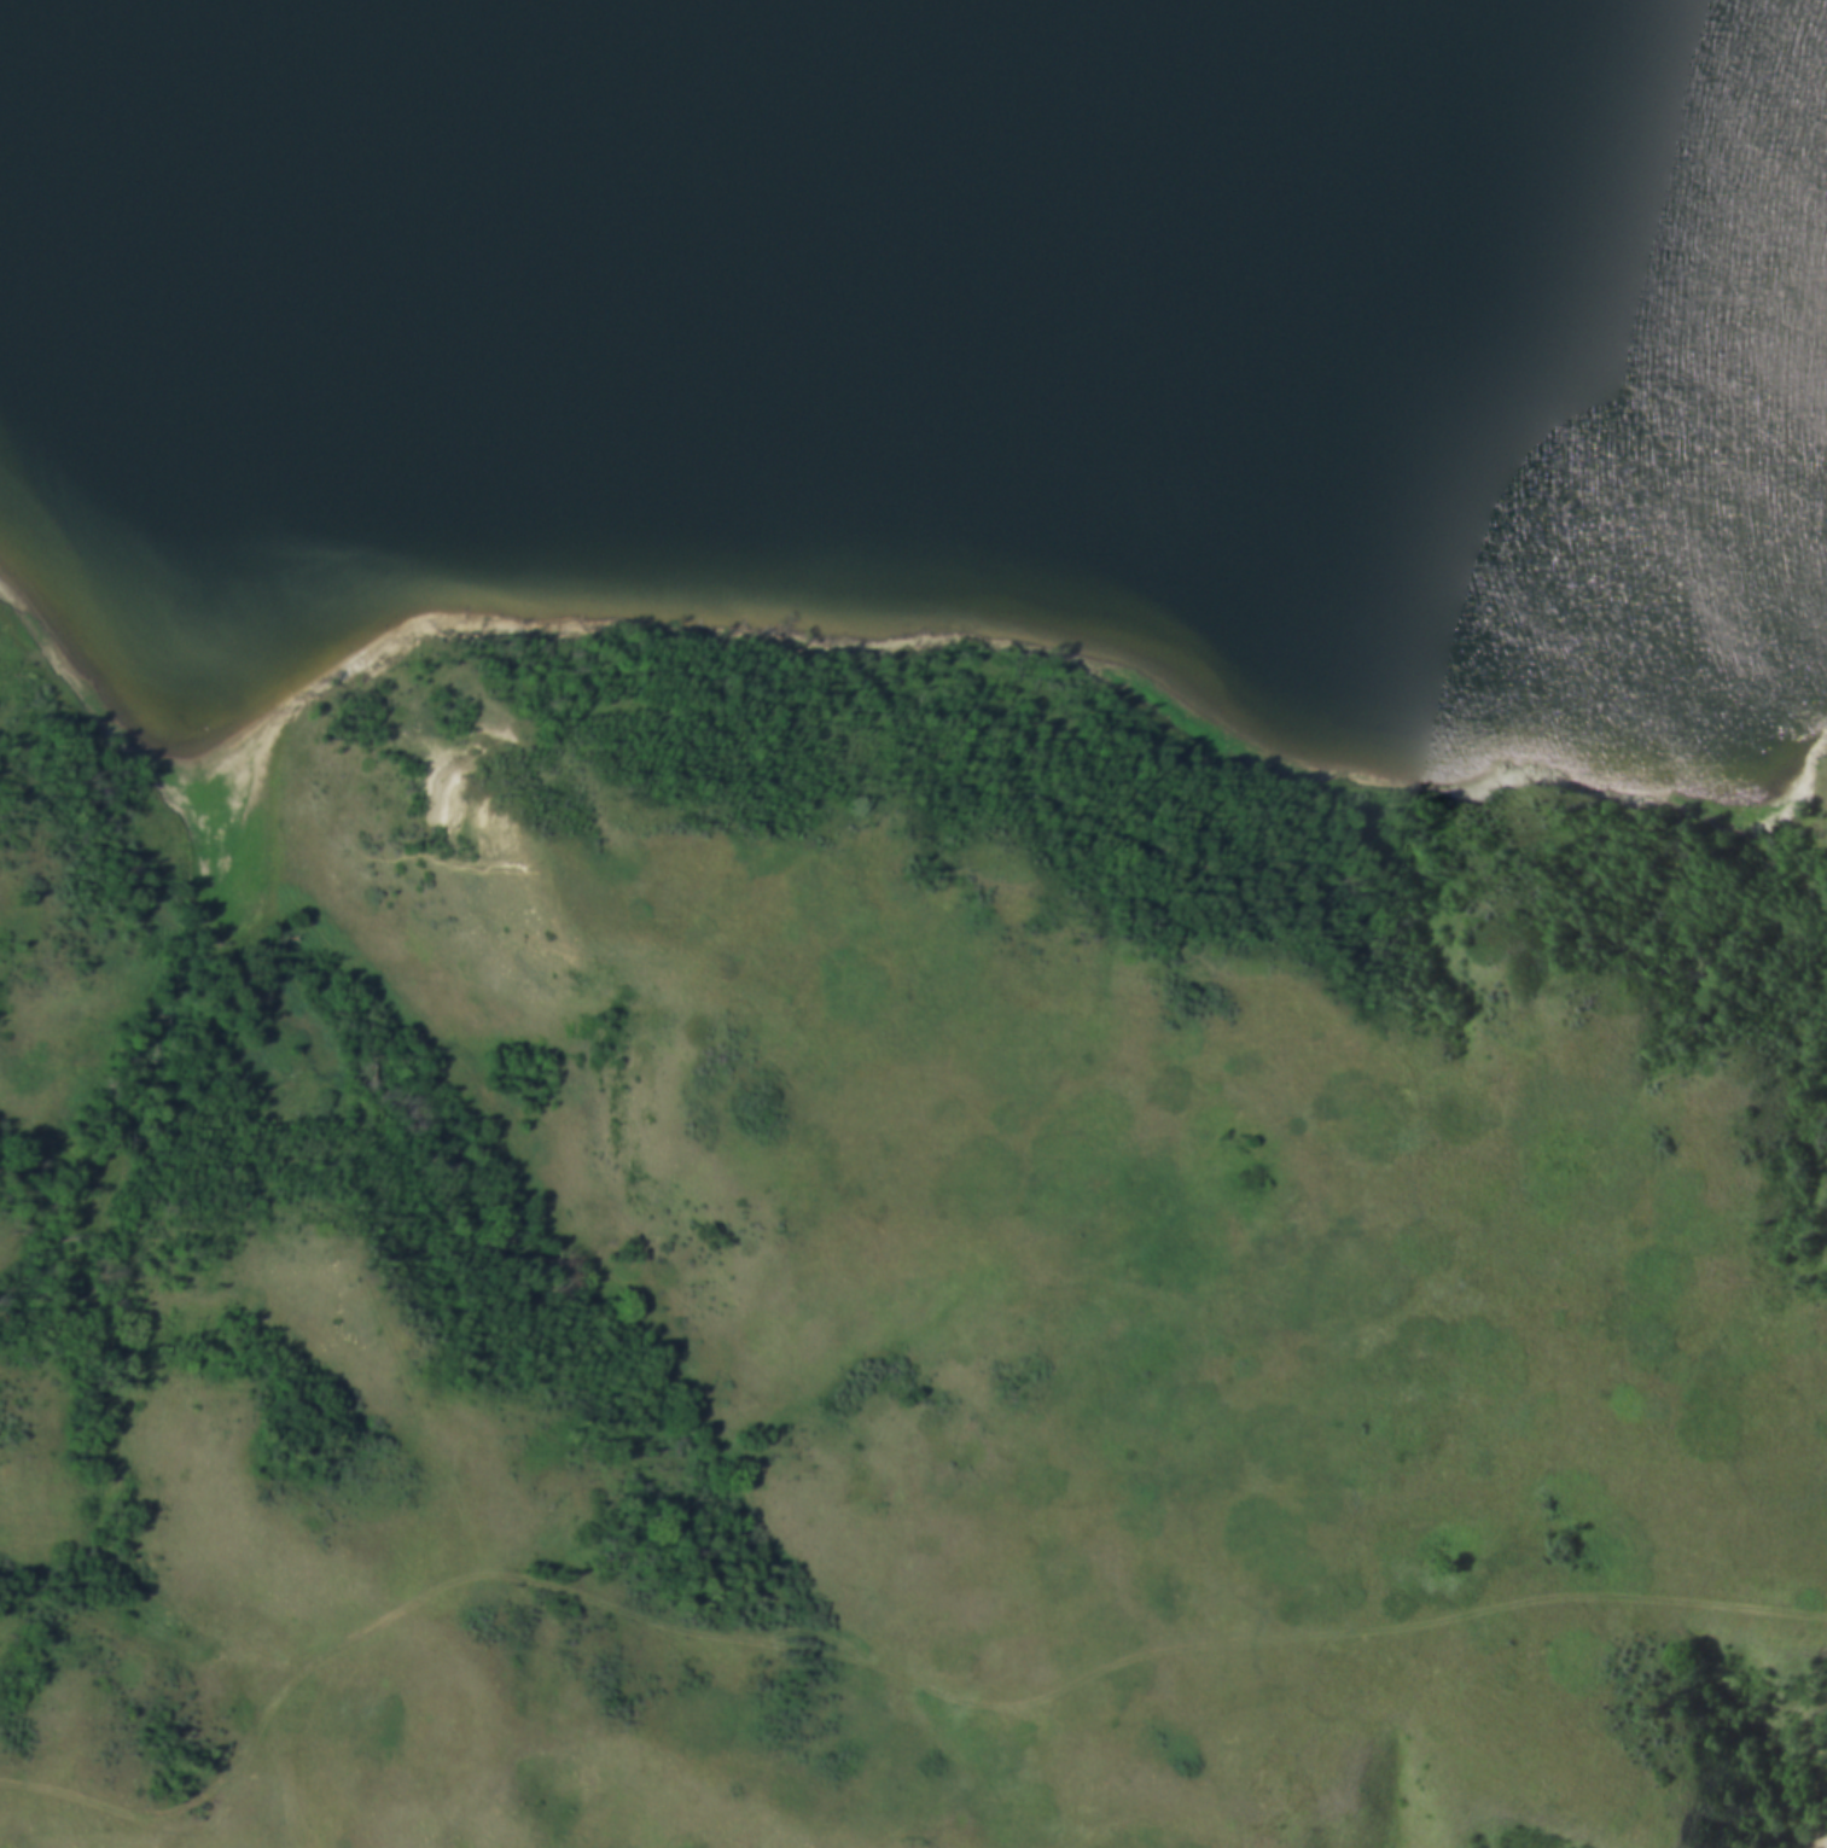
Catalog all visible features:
road: (23, 1785)

